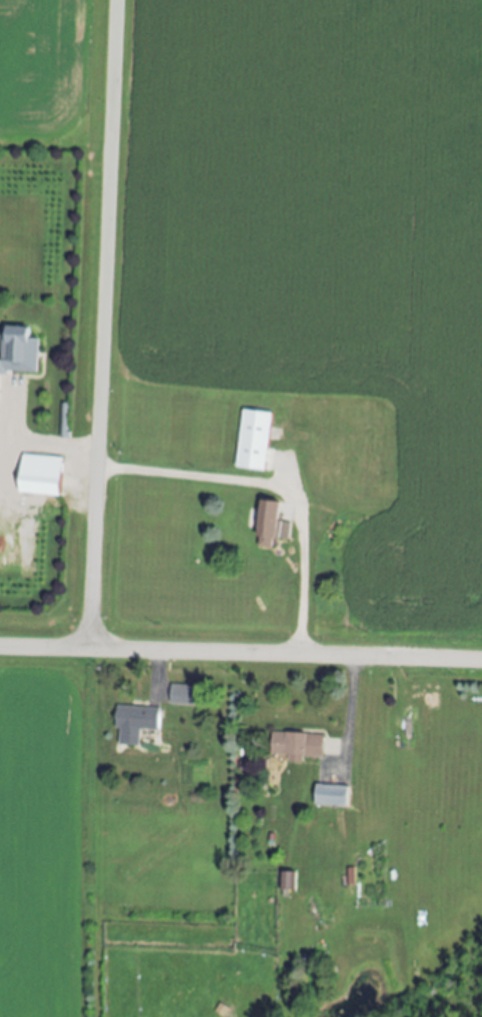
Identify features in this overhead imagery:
road: (101, 322)
building: (17, 350)
building: (251, 441)
road: (51, 442)
building: (38, 475)
road: (272, 485)
building: (270, 520)
road: (241, 650)
road: (160, 665)
building: (188, 695)
road: (348, 708)
building: (134, 723)
building: (295, 746)
building: (329, 797)
building: (286, 882)

